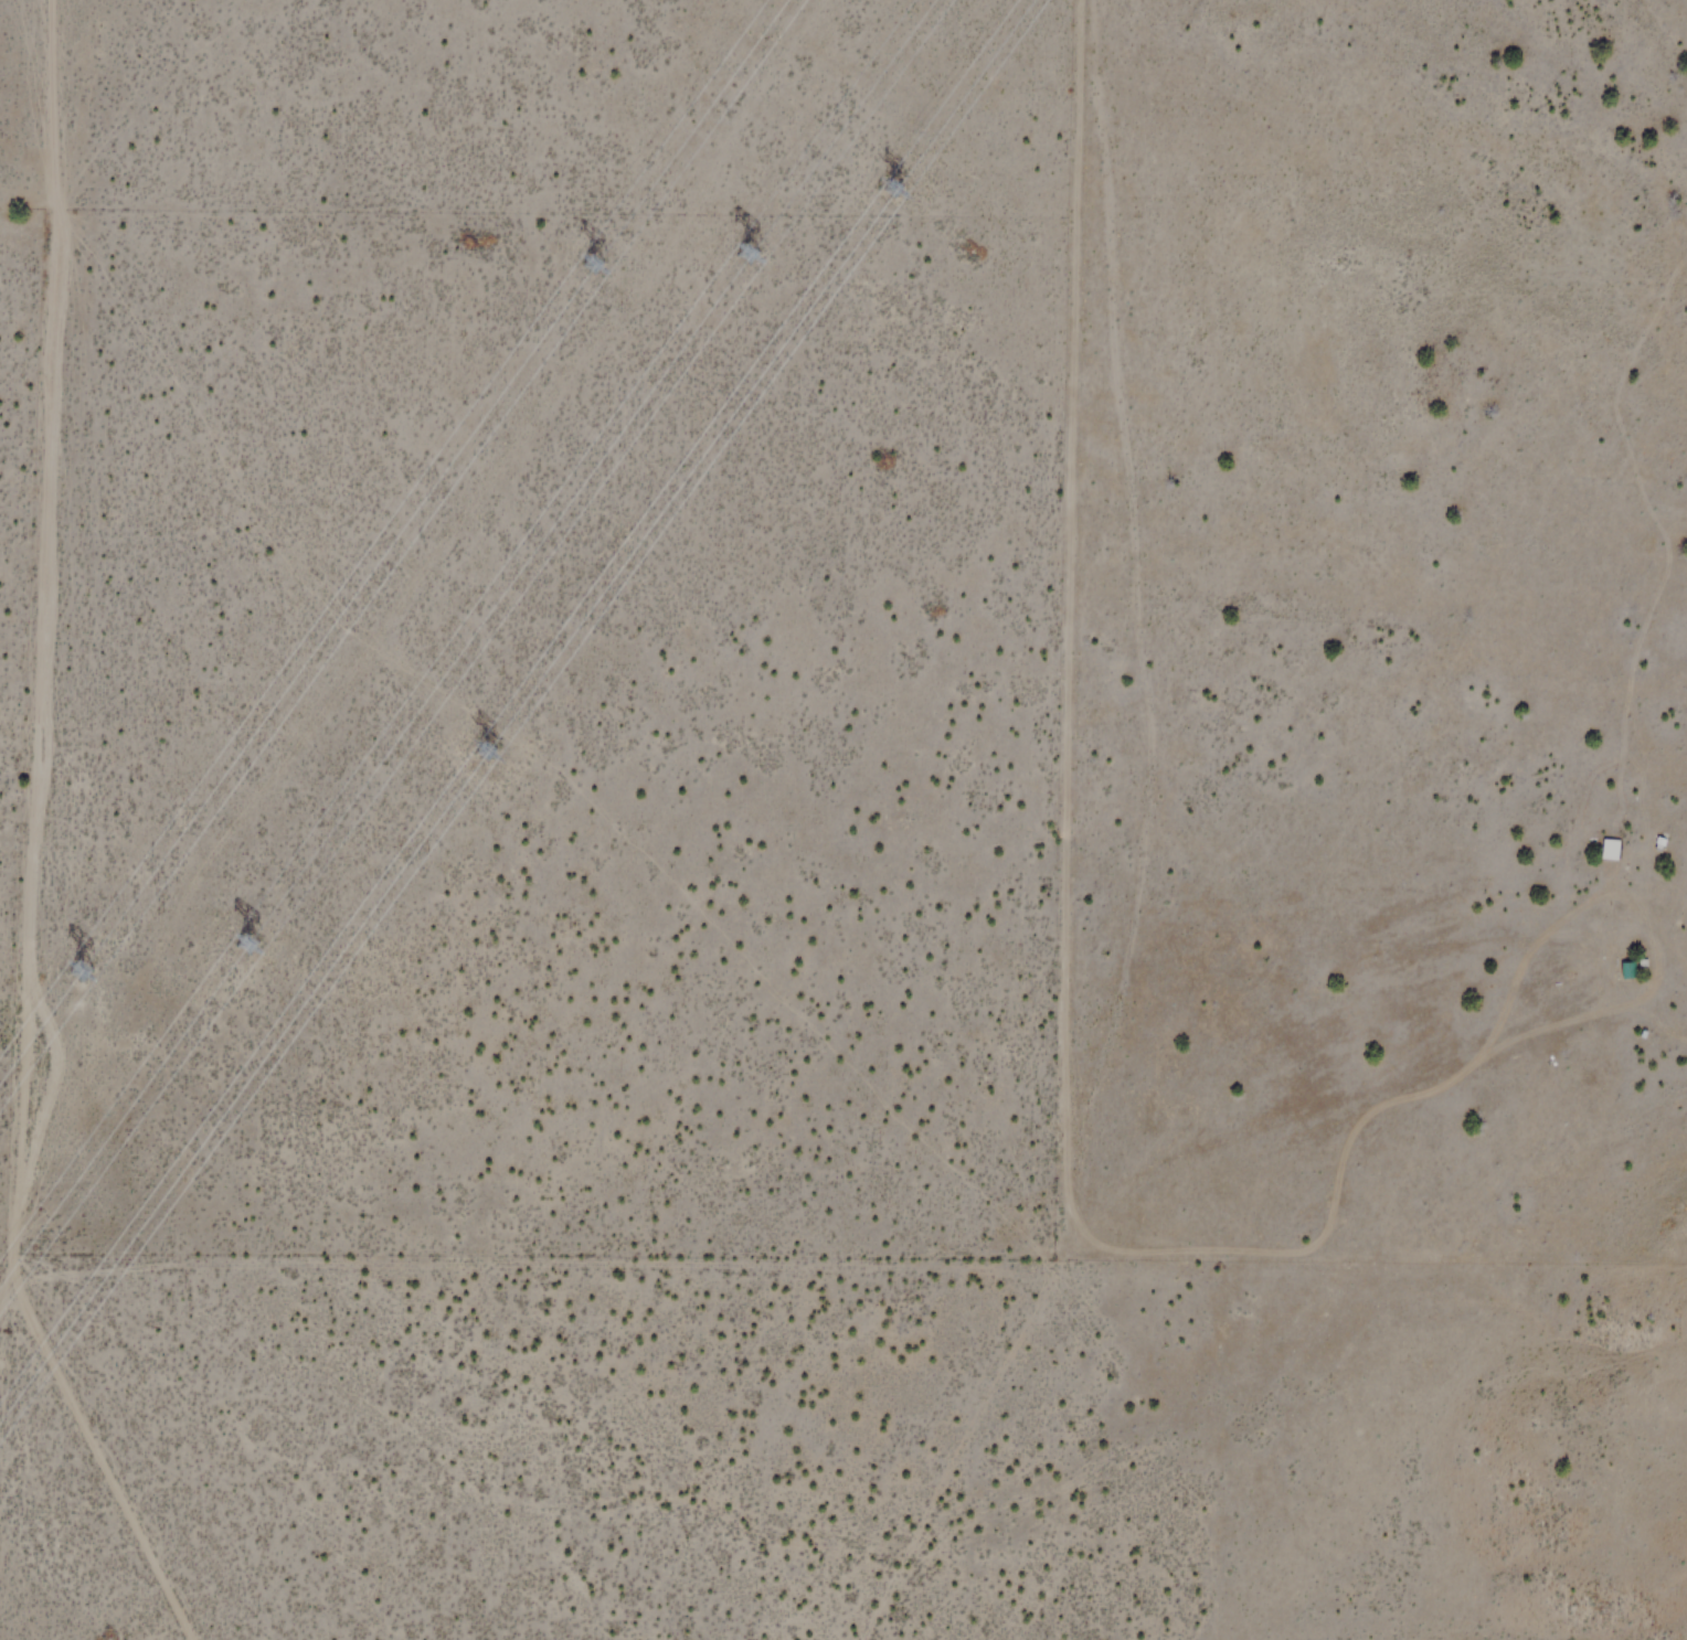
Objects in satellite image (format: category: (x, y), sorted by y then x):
power tower: (911, 185)
power tower: (771, 230)
power tower: (596, 242)
power tower: (496, 764)
building: (1606, 850)
power tower: (257, 944)
power tower: (82, 956)

